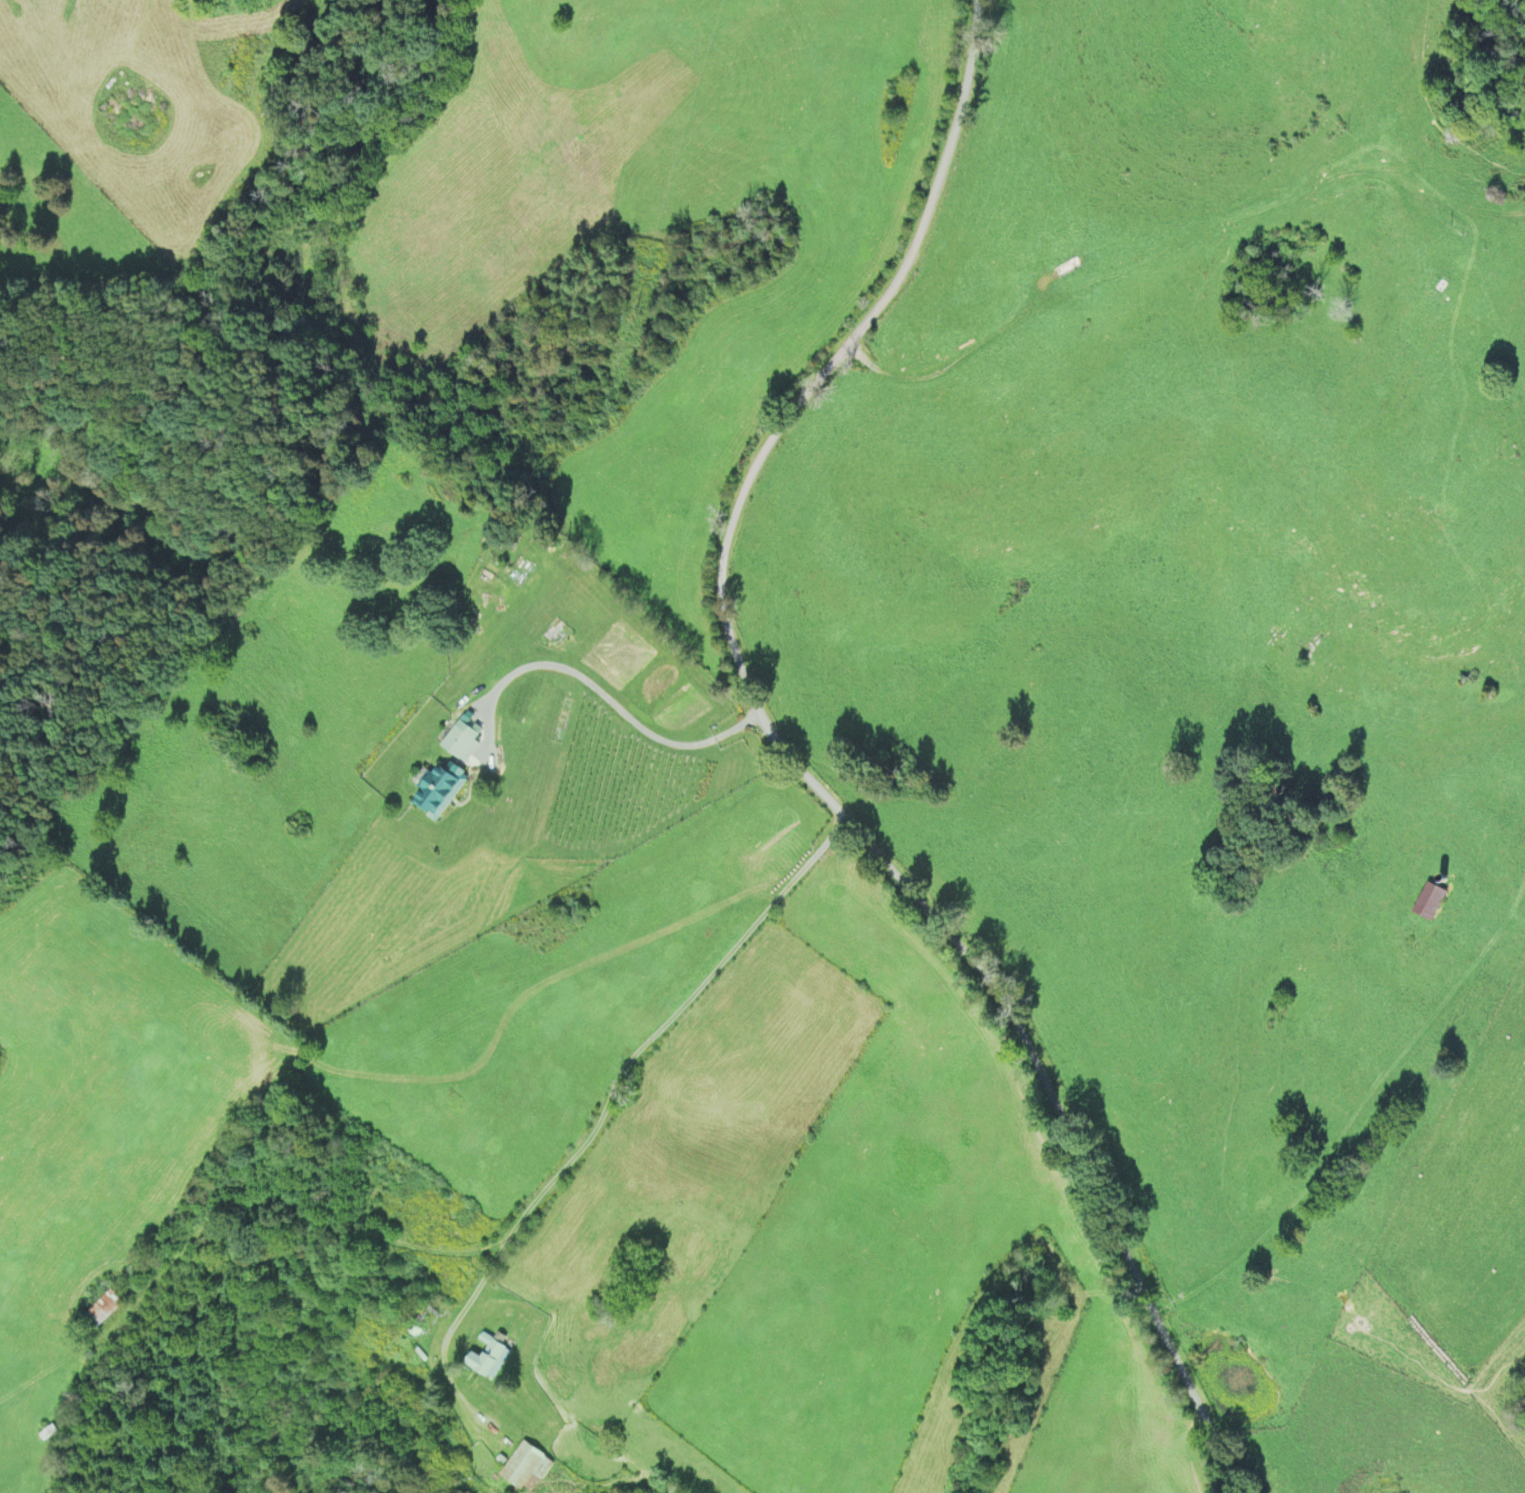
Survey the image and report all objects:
building: (459, 741)
road: (802, 764)
building: (438, 790)
building: (1427, 900)
road: (627, 1115)
building: (100, 1309)
building: (418, 1318)
building: (484, 1356)
building: (47, 1434)
building: (524, 1467)

